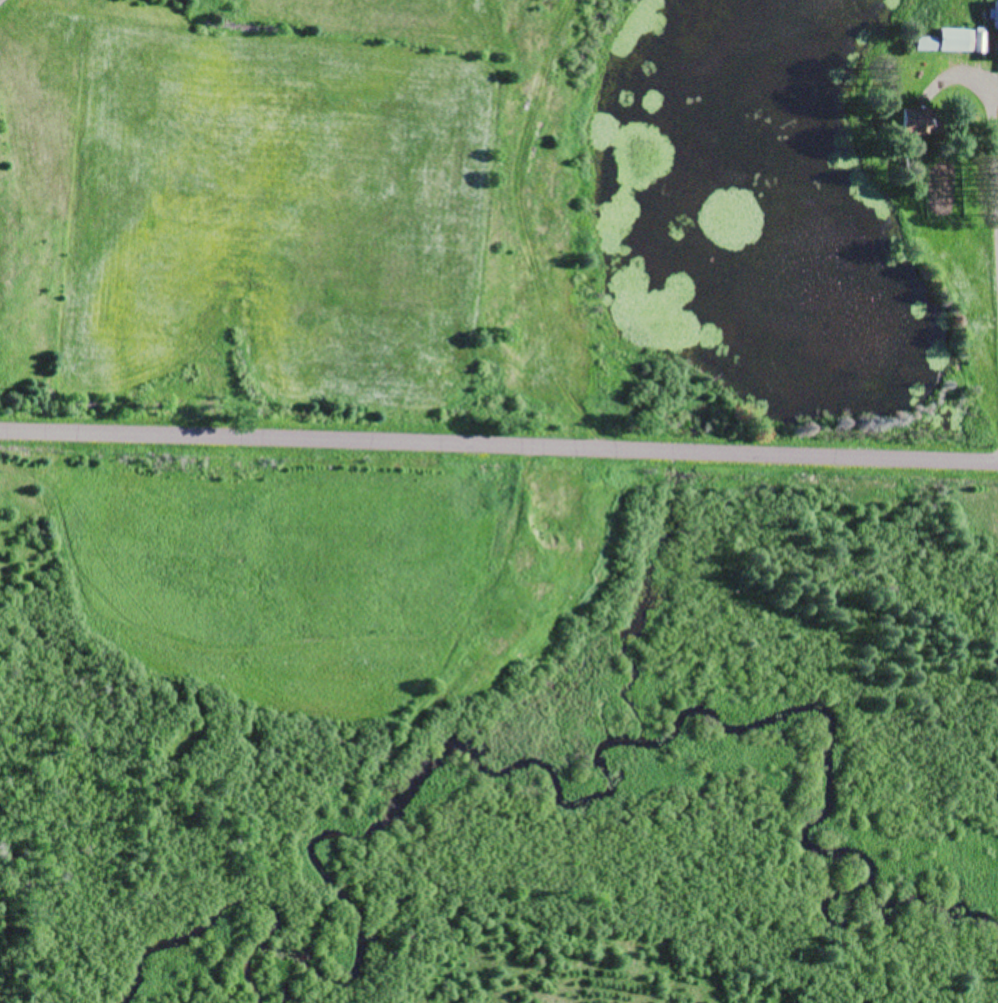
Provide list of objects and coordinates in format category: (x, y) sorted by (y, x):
building: (995, 27)
building: (959, 39)
building: (918, 121)
road: (995, 177)
road: (499, 447)

